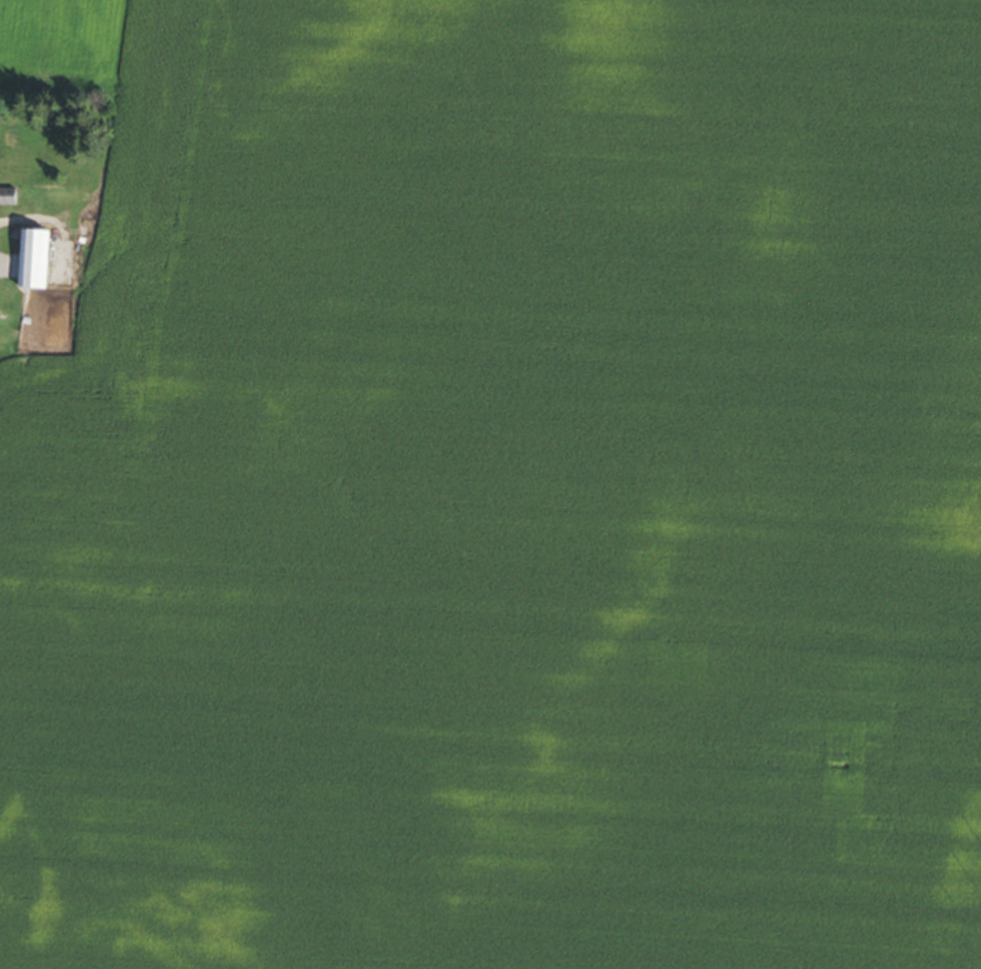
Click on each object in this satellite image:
building: (11, 199)
building: (39, 262)

